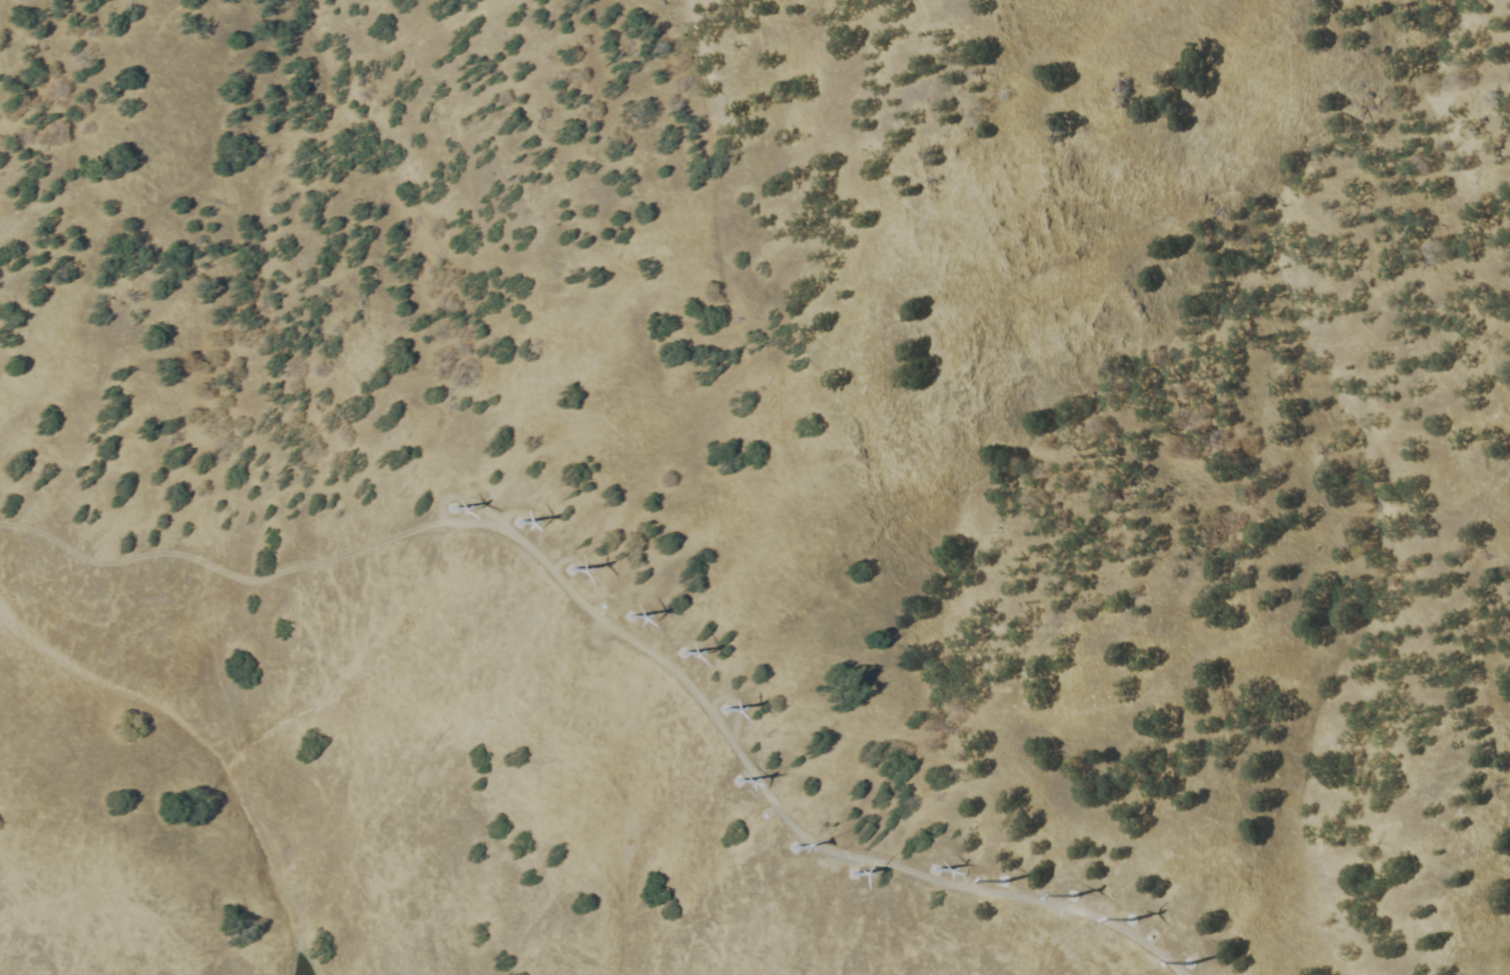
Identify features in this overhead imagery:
road: (462, 496)
wind turbine: (451, 507)
road: (528, 516)
wind turbine: (517, 523)
road: (219, 568)
wind turbine: (572, 571)
wind turbine: (629, 614)
wind turbine: (681, 650)
road: (733, 706)
wind turbine: (723, 709)
wind turbine: (734, 779)
road: (774, 805)
wind turbine: (798, 848)
wind turbine: (934, 866)
wind turbine: (856, 877)
wind turbine: (1001, 879)
wind turbine: (1068, 895)
wind turbine: (1131, 916)
wind turbine: (1188, 961)

